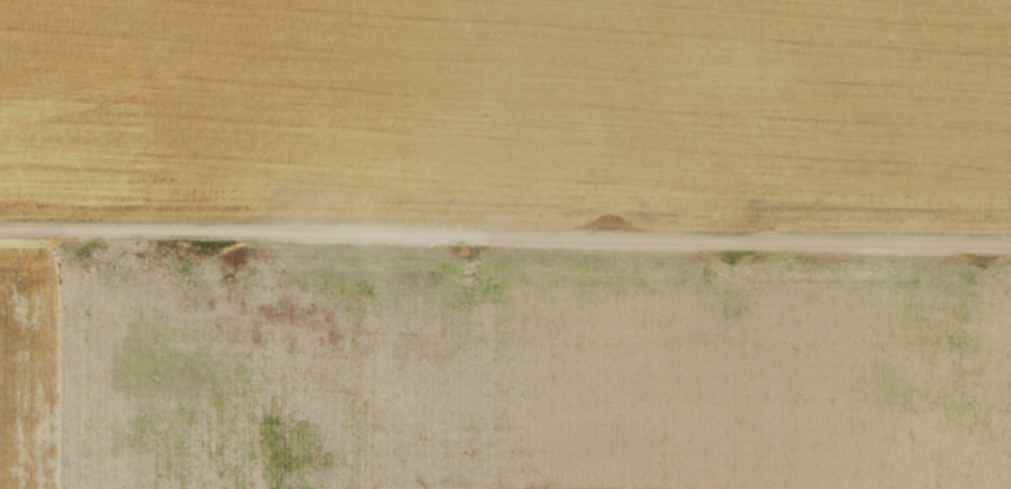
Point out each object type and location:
crop: (512, 109)
road: (505, 234)
crop: (500, 370)

